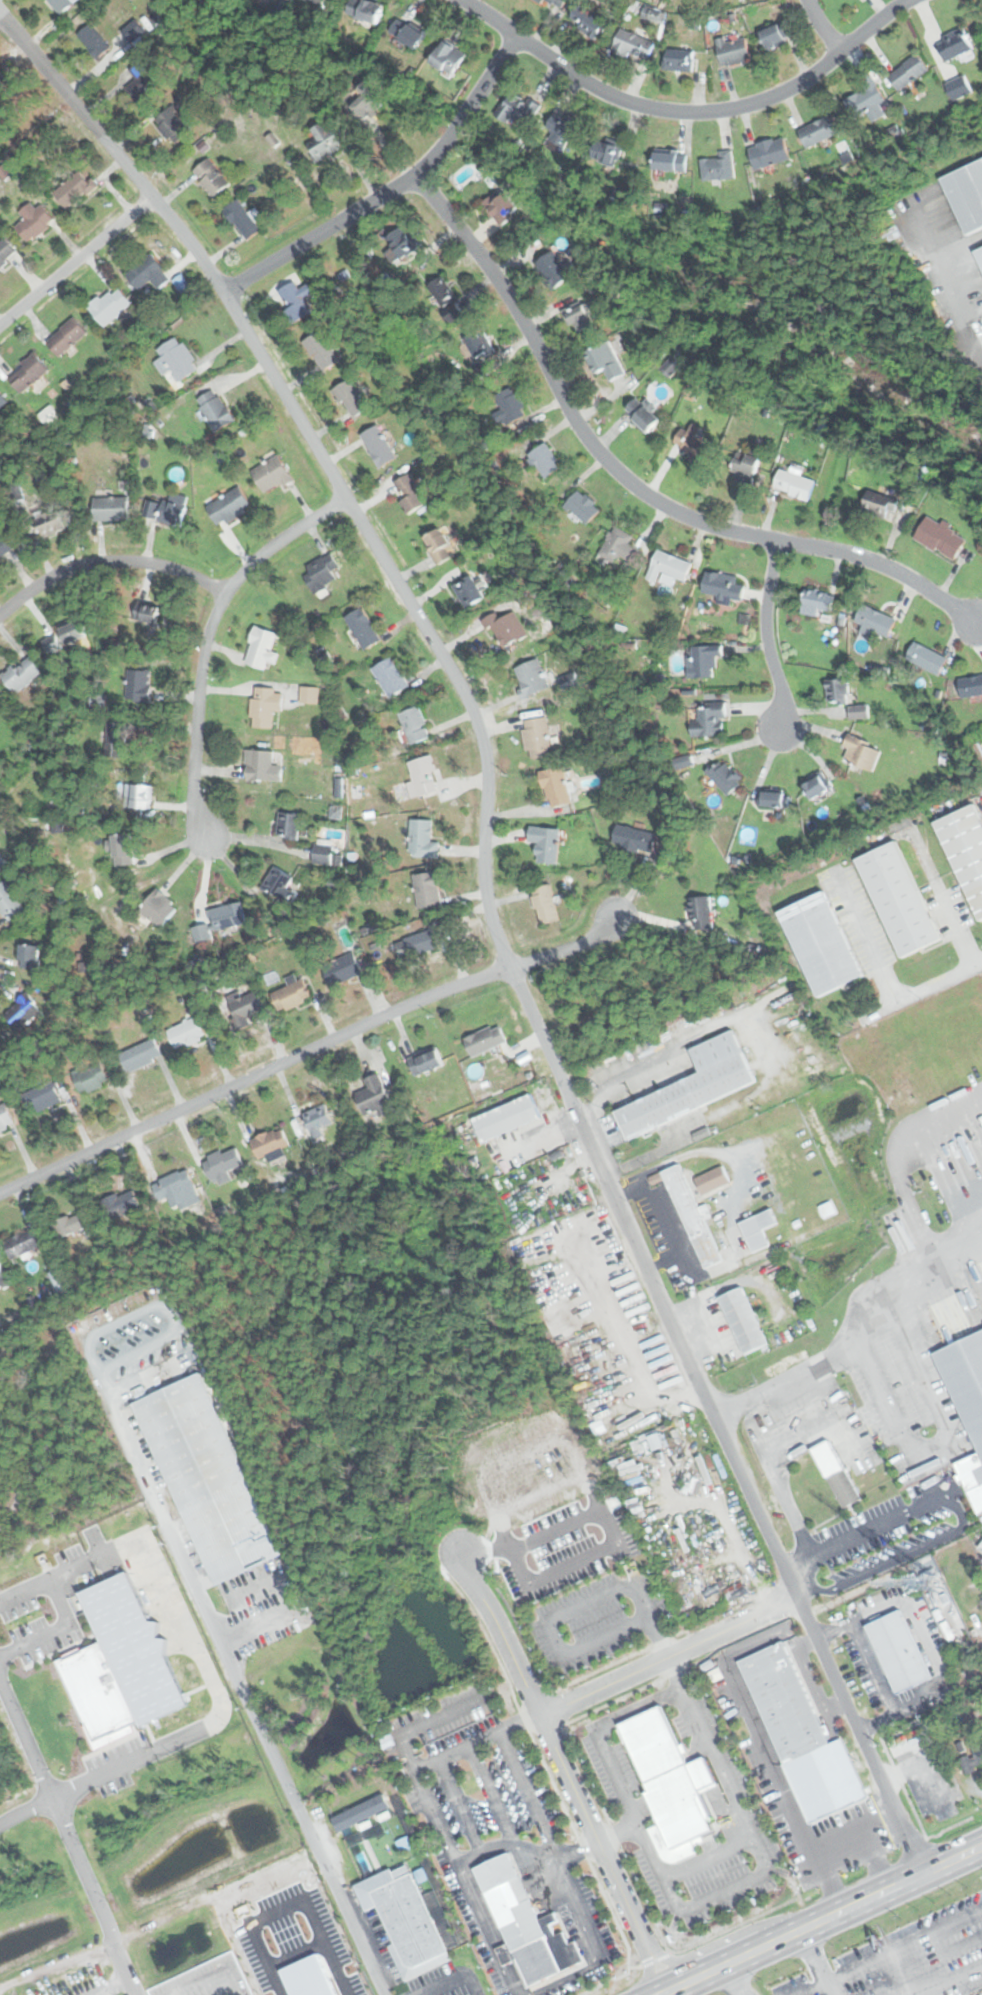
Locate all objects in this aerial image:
building: (323, 3)
building: (558, 3)
building: (60, 5)
building: (364, 11)
building: (587, 23)
road: (820, 27)
building: (406, 34)
building: (776, 35)
building: (92, 41)
building: (634, 45)
building: (954, 45)
building: (732, 51)
building: (447, 58)
building: (679, 60)
building: (908, 72)
building: (3, 81)
building: (141, 81)
building: (958, 87)
building: (865, 96)
building: (364, 104)
building: (517, 109)
road: (686, 111)
building: (172, 125)
building: (819, 130)
building: (559, 134)
building: (327, 141)
building: (605, 151)
building: (769, 152)
building: (670, 160)
building: (718, 165)
building: (210, 177)
building: (74, 190)
road: (392, 190)
building: (966, 194)
building: (500, 204)
building: (243, 217)
building: (33, 220)
building: (404, 246)
building: (5, 251)
building: (979, 253)
road: (75, 259)
building: (552, 268)
building: (148, 273)
building: (442, 291)
building: (296, 299)
building: (109, 305)
building: (577, 317)
building: (67, 335)
building: (479, 344)
building: (321, 350)
building: (176, 358)
building: (604, 361)
building: (27, 373)
building: (3, 399)
building: (353, 399)
building: (509, 407)
building: (215, 409)
building: (641, 414)
building: (691, 442)
building: (378, 445)
building: (544, 460)
road: (323, 462)
building: (744, 466)
building: (271, 474)
road: (628, 482)
building: (793, 483)
building: (409, 493)
building: (876, 503)
building: (230, 505)
building: (583, 506)
building: (110, 508)
building: (165, 510)
building: (49, 523)
building: (939, 537)
building: (438, 545)
building: (4, 546)
building: (620, 546)
road: (109, 561)
building: (669, 566)
building: (320, 572)
building: (722, 587)
building: (470, 591)
building: (818, 599)
building: (146, 612)
building: (875, 620)
building: (508, 627)
building: (362, 628)
building: (72, 632)
road: (764, 632)
road: (205, 639)
building: (52, 644)
building: (261, 648)
building: (926, 657)
building: (703, 659)
building: (21, 674)
building: (390, 676)
building: (531, 677)
building: (138, 685)
building: (971, 685)
building: (837, 690)
building: (266, 706)
building: (858, 711)
building: (711, 720)
building: (414, 724)
building: (115, 736)
building: (536, 737)
building: (861, 752)
building: (260, 765)
building: (423, 776)
building: (725, 777)
building: (555, 786)
building: (816, 787)
building: (140, 797)
building: (773, 798)
building: (289, 825)
building: (635, 838)
building: (421, 839)
building: (545, 843)
building: (122, 850)
building: (966, 851)
building: (326, 854)
building: (279, 885)
building: (427, 890)
building: (898, 898)
building: (9, 903)
building: (544, 904)
building: (159, 909)
building: (701, 913)
building: (220, 921)
building: (418, 943)
building: (820, 944)
road: (566, 948)
building: (30, 957)
building: (342, 969)
road: (958, 972)
building: (292, 995)
building: (245, 1008)
building: (22, 1012)
building: (185, 1033)
building: (485, 1040)
building: (140, 1055)
building: (425, 1062)
road: (252, 1075)
building: (91, 1078)
building: (693, 1081)
building: (893, 1096)
building: (41, 1097)
building: (374, 1097)
building: (4, 1117)
building: (505, 1118)
building: (318, 1119)
building: (269, 1144)
building: (221, 1165)
building: (712, 1180)
building: (176, 1191)
building: (121, 1202)
building: (689, 1214)
building: (76, 1221)
building: (757, 1230)
building: (23, 1242)
building: (3, 1278)
building: (742, 1320)
building: (966, 1397)
road: (716, 1421)
building: (654, 1442)
building: (836, 1474)
building: (206, 1479)
road: (956, 1506)
road: (851, 1593)
road: (60, 1610)
road: (804, 1640)
road: (668, 1652)
building: (897, 1652)
road: (873, 1666)
road: (744, 1700)
road: (598, 1735)
building: (801, 1738)
building: (974, 1756)
road: (562, 1768)
building: (670, 1786)
road: (67, 1788)
road: (526, 1793)
road: (289, 1794)
road: (69, 1839)
building: (403, 1919)
road: (820, 1920)
building: (525, 1925)
building: (279, 1940)
road: (903, 1946)
road: (55, 1963)
road: (813, 1963)
road: (734, 1979)

